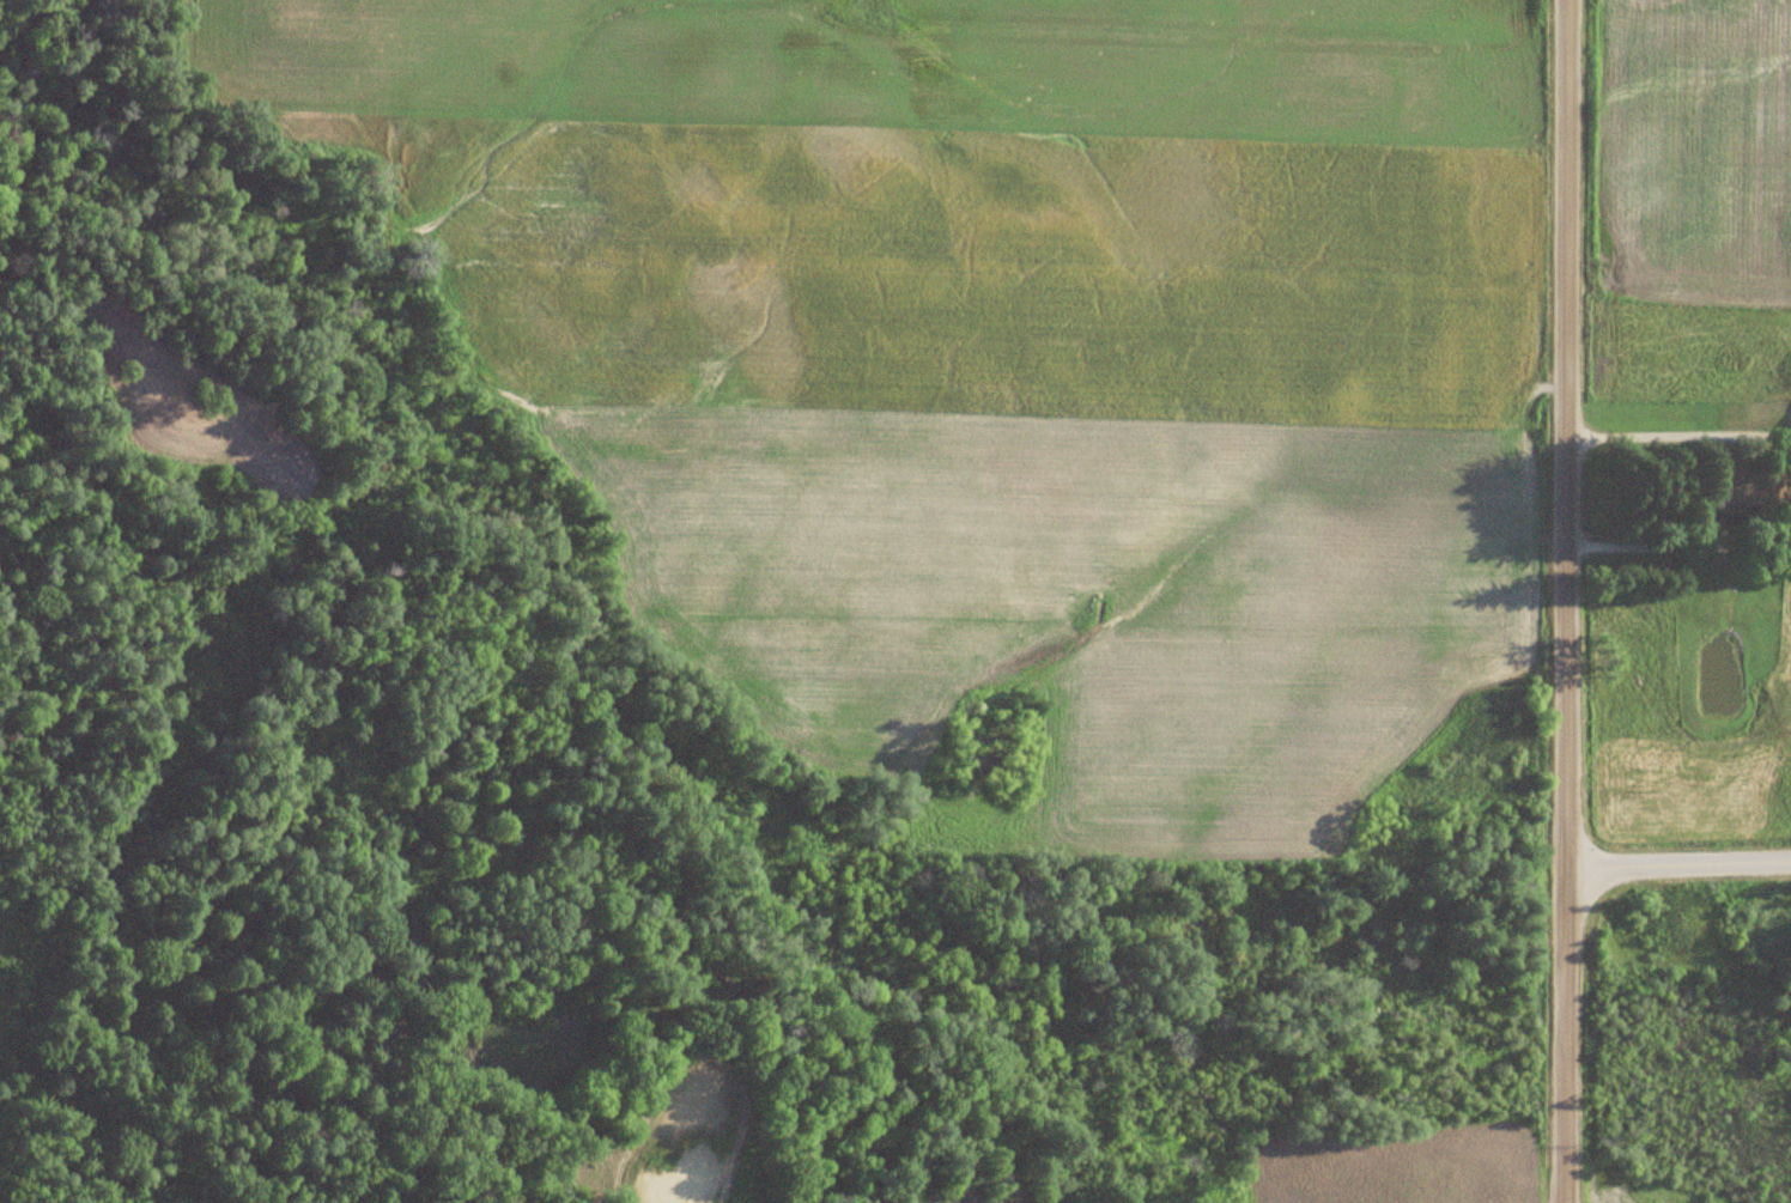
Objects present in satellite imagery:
road: (1674, 441)
road: (1558, 601)
road: (1676, 880)

